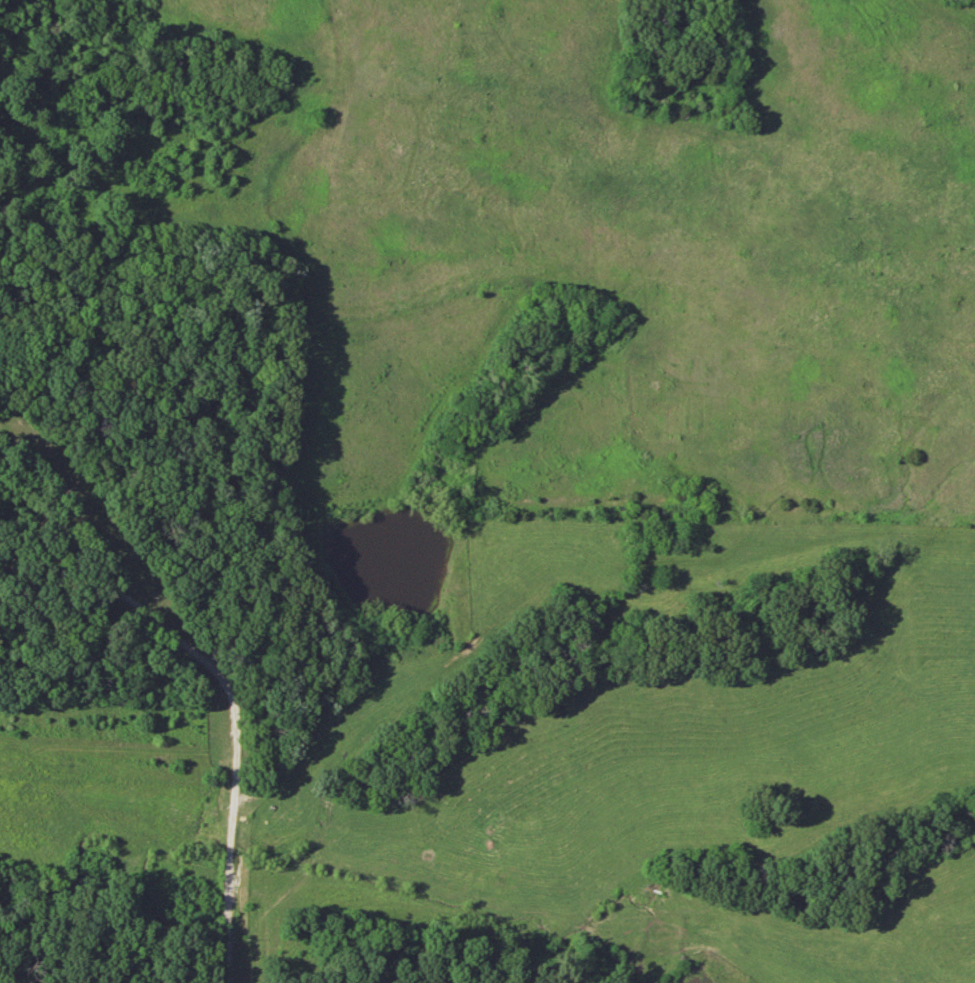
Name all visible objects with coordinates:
road: (235, 700)

